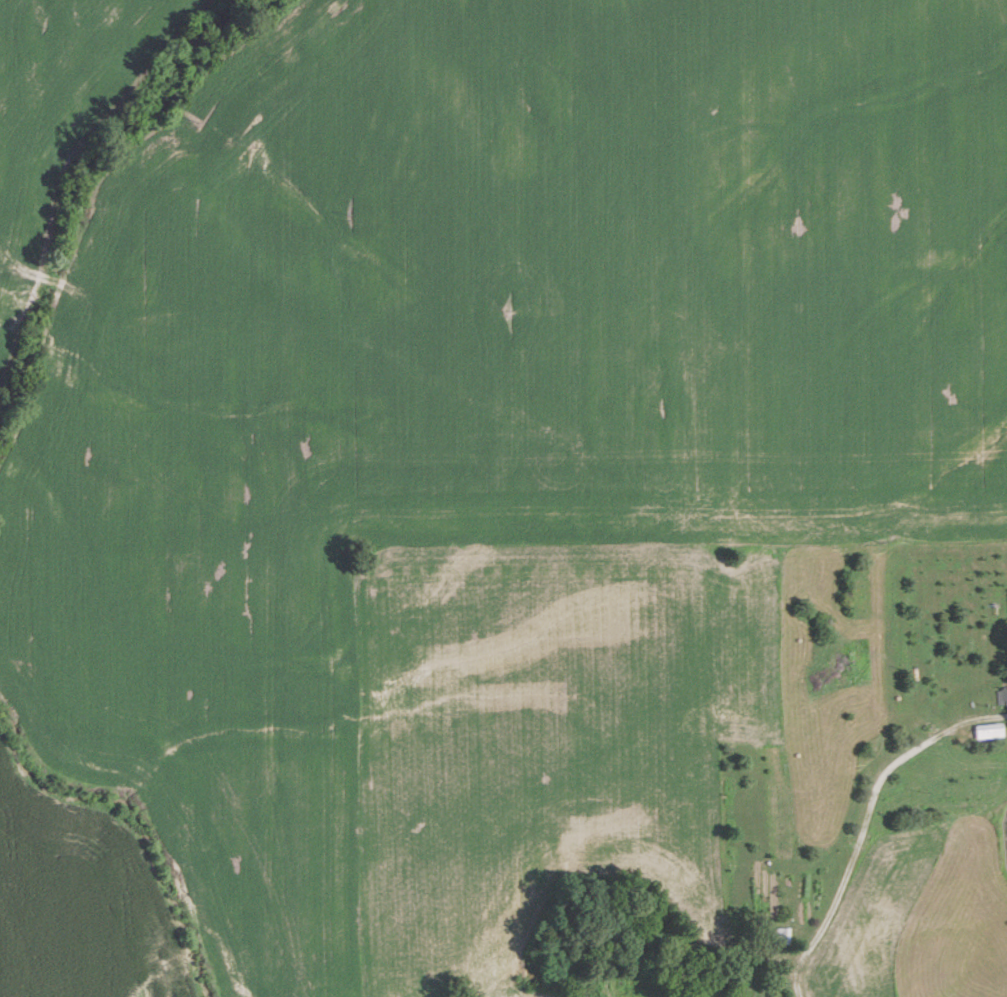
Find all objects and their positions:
crop: (64, 100)
crop: (452, 404)
building: (1002, 696)
building: (988, 730)
road: (850, 855)
building: (782, 936)

